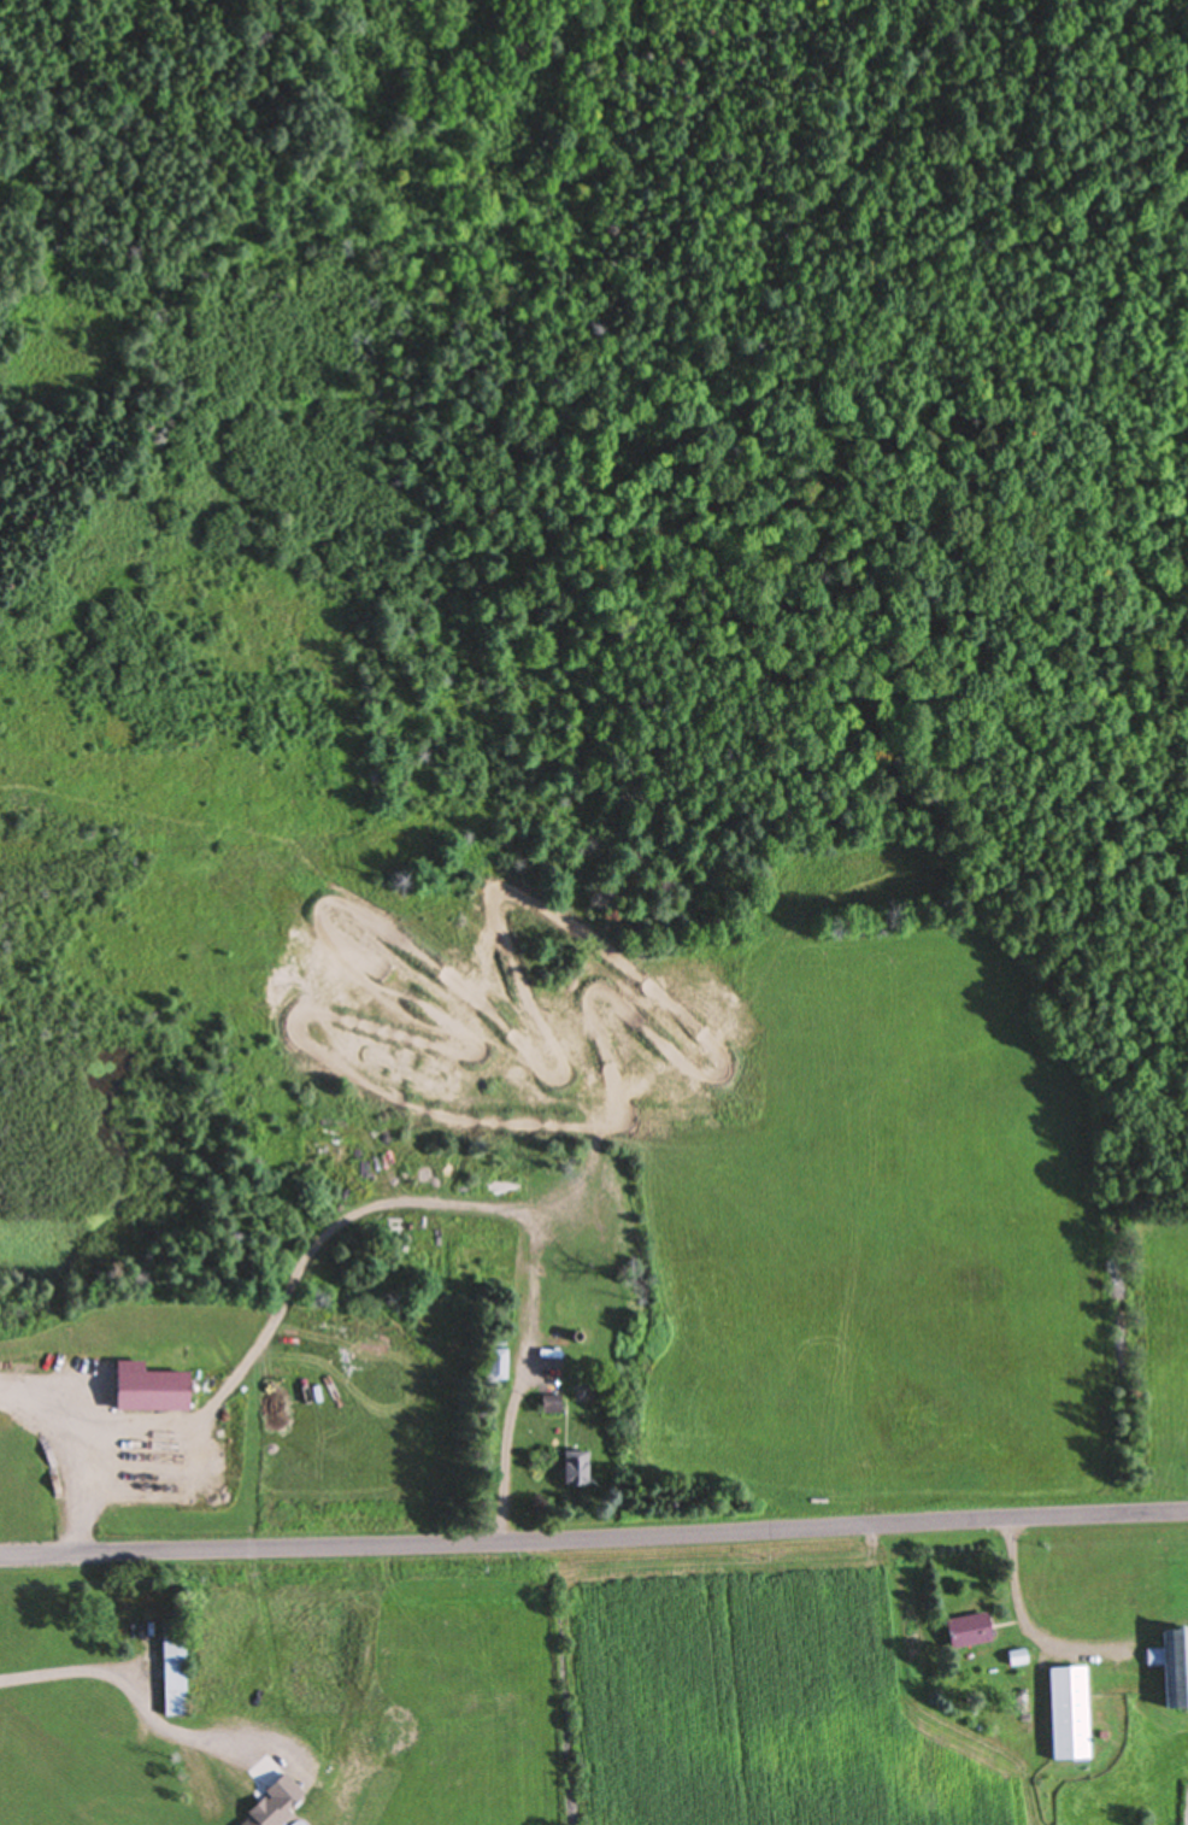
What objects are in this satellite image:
building: (499, 1367)
building: (148, 1391)
building: (551, 1404)
building: (575, 1471)
road: (594, 1534)
building: (137, 1622)
building: (968, 1631)
building: (1174, 1666)
building: (174, 1674)
building: (1069, 1714)
building: (124, 1783)

